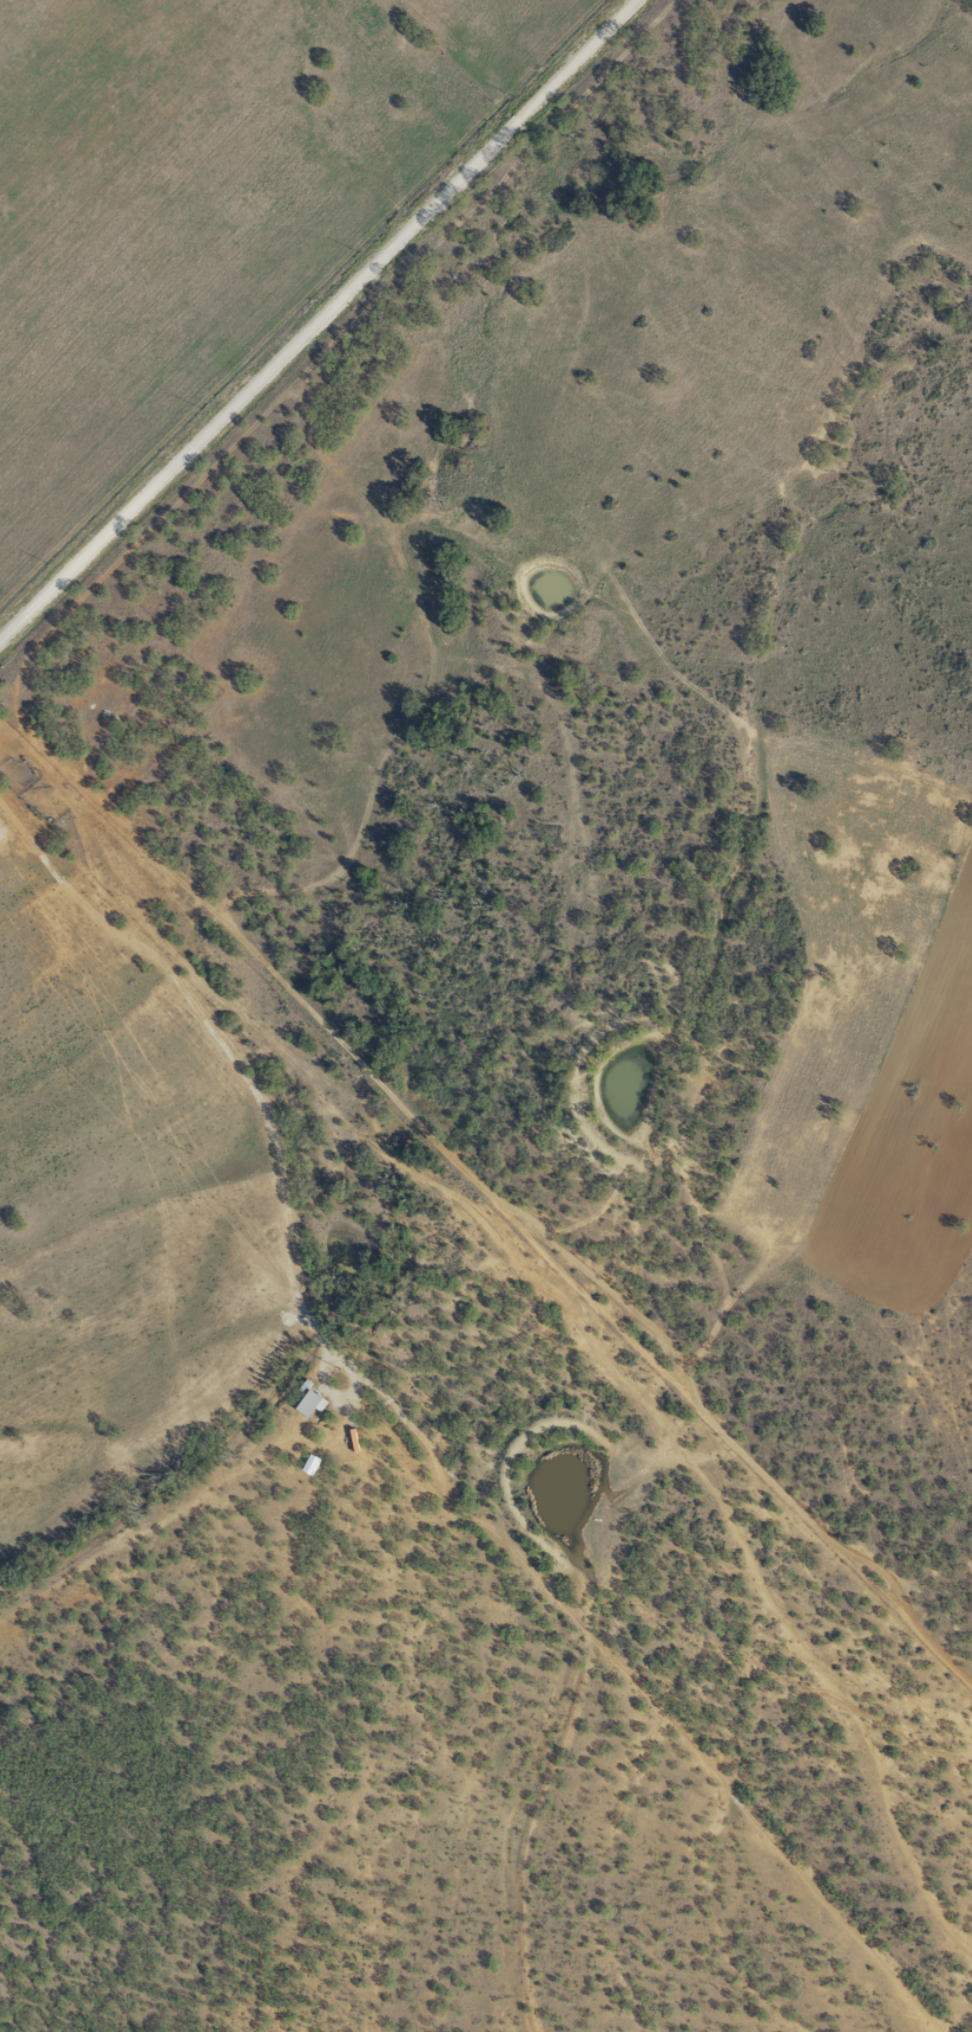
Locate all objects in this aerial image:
road: (313, 317)
building: (304, 1402)

